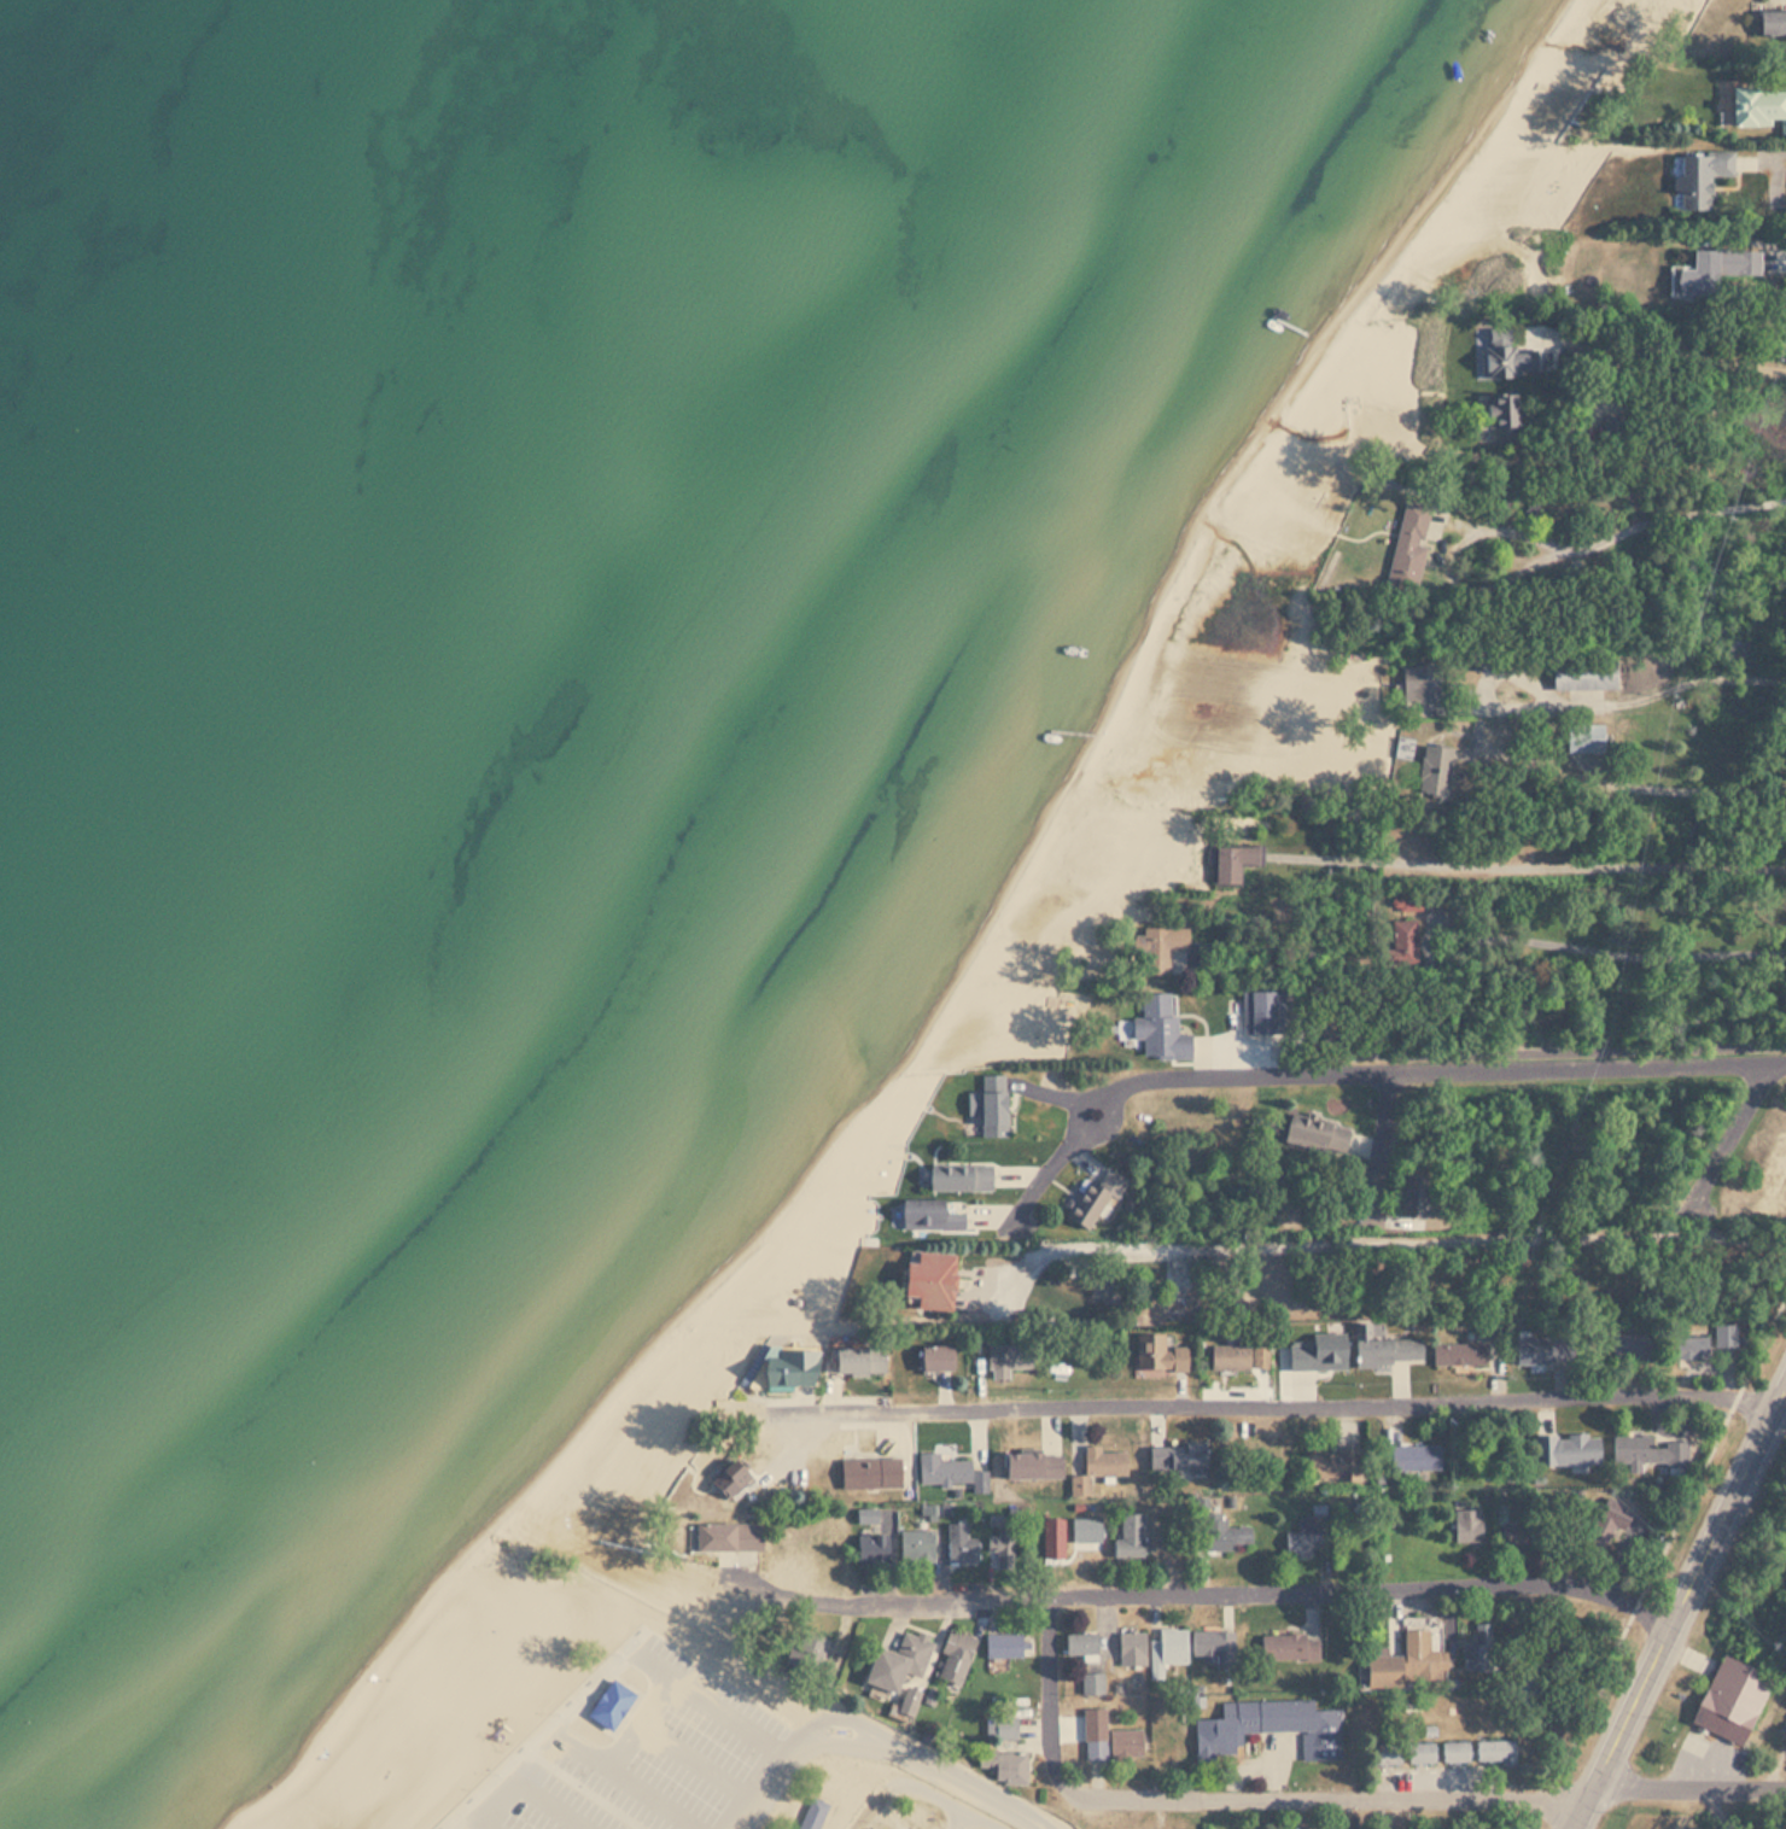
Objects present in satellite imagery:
building: (1770, 23)
building: (1758, 107)
road: (1775, 162)
building: (1698, 177)
building: (1695, 276)
building: (1511, 357)
road: (1685, 358)
building: (1499, 417)
road: (1633, 526)
building: (1409, 544)
building: (1582, 674)
building: (1419, 685)
road: (1691, 686)
building: (1583, 740)
building: (1434, 772)
road: (1682, 785)
building: (1233, 864)
road: (1531, 865)
building: (1405, 941)
building: (1162, 947)
road: (1616, 952)
building: (1260, 1011)
building: (1160, 1028)
road: (1365, 1071)
building: (992, 1105)
building: (1315, 1134)
building: (956, 1178)
building: (1416, 1194)
building: (1087, 1204)
building: (928, 1214)
road: (1429, 1244)
building: (927, 1279)
building: (1107, 1289)
building: (1726, 1334)
building: (1384, 1346)
building: (1628, 1346)
building: (1687, 1346)
building: (1537, 1348)
building: (1459, 1352)
building: (1158, 1355)
building: (933, 1357)
building: (1230, 1357)
building: (859, 1360)
building: (1006, 1360)
building: (787, 1367)
road: (1261, 1407)
building: (1568, 1449)
building: (1648, 1450)
road: (801, 1451)
building: (1175, 1456)
building: (1414, 1457)
building: (1330, 1465)
building: (1098, 1468)
building: (945, 1469)
building: (870, 1473)
building: (728, 1478)
building: (1469, 1525)
building: (1603, 1531)
building: (1224, 1533)
building: (728, 1536)
building: (1130, 1536)
building: (1518, 1536)
building: (1053, 1538)
building: (1305, 1538)
building: (961, 1544)
building: (1004, 1544)
building: (918, 1545)
building: (872, 1549)
road: (1198, 1594)
road: (1681, 1606)
building: (1079, 1644)
building: (1004, 1646)
building: (1215, 1647)
building: (1290, 1647)
building: (1131, 1648)
building: (1479, 1648)
building: (1168, 1649)
building: (957, 1656)
building: (898, 1660)
building: (1412, 1661)
building: (1092, 1683)
building: (1730, 1699)
building: (909, 1701)
building: (611, 1704)
road: (1052, 1704)
road: (718, 1707)
park: (578, 1716)
road: (624, 1718)
building: (1271, 1726)
building: (1006, 1728)
road: (882, 1736)
road: (536, 1739)
building: (1115, 1745)
building: (1455, 1751)
building: (1422, 1752)
building: (1495, 1752)
building: (1387, 1753)
parking lot: (648, 1758)
road: (700, 1759)
building: (1005, 1764)
road: (613, 1766)
road: (536, 1787)
road: (484, 1788)
road: (1432, 1798)
road: (950, 1802)
road: (275, 1804)
road: (880, 1808)
building: (811, 1813)
road: (959, 1821)
road: (444, 1828)

